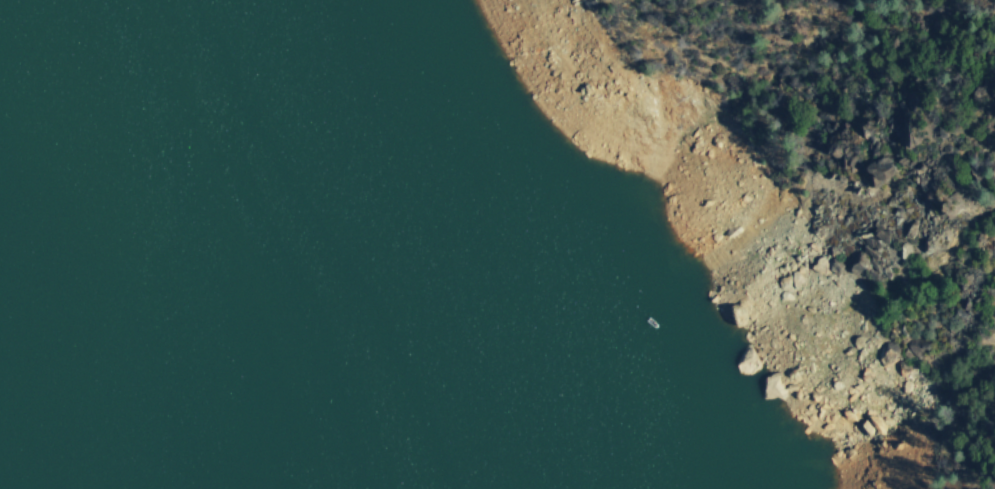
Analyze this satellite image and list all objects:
river: (90, 244)

